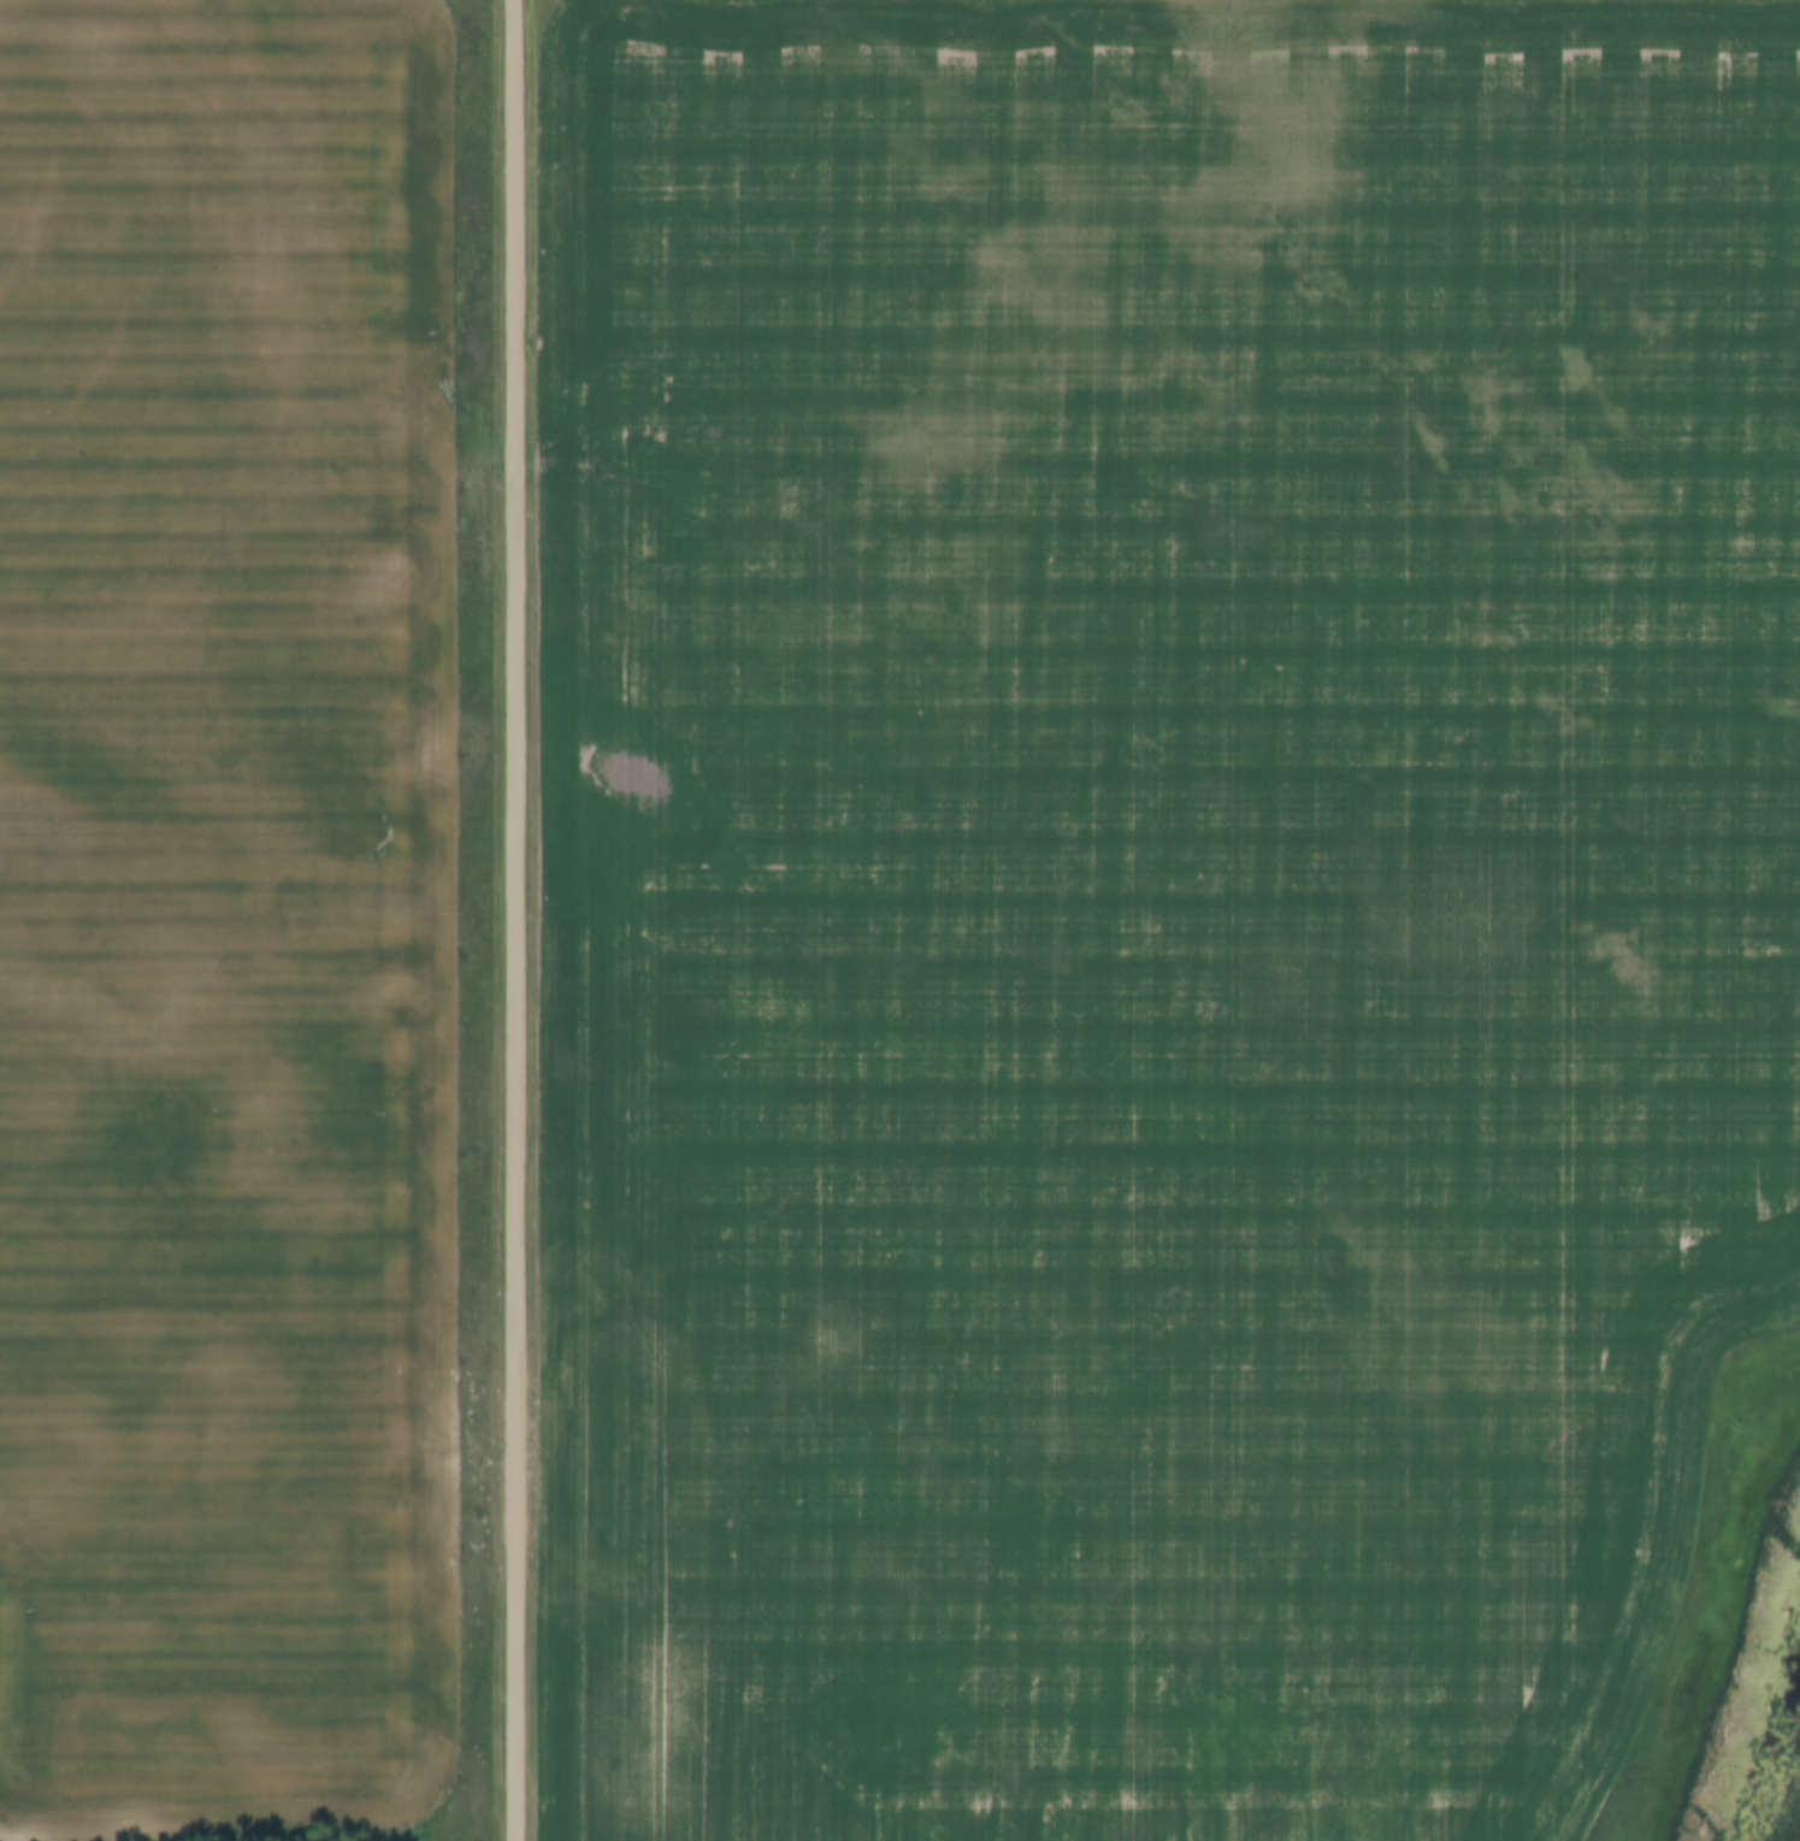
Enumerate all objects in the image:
road: (514, 920)

